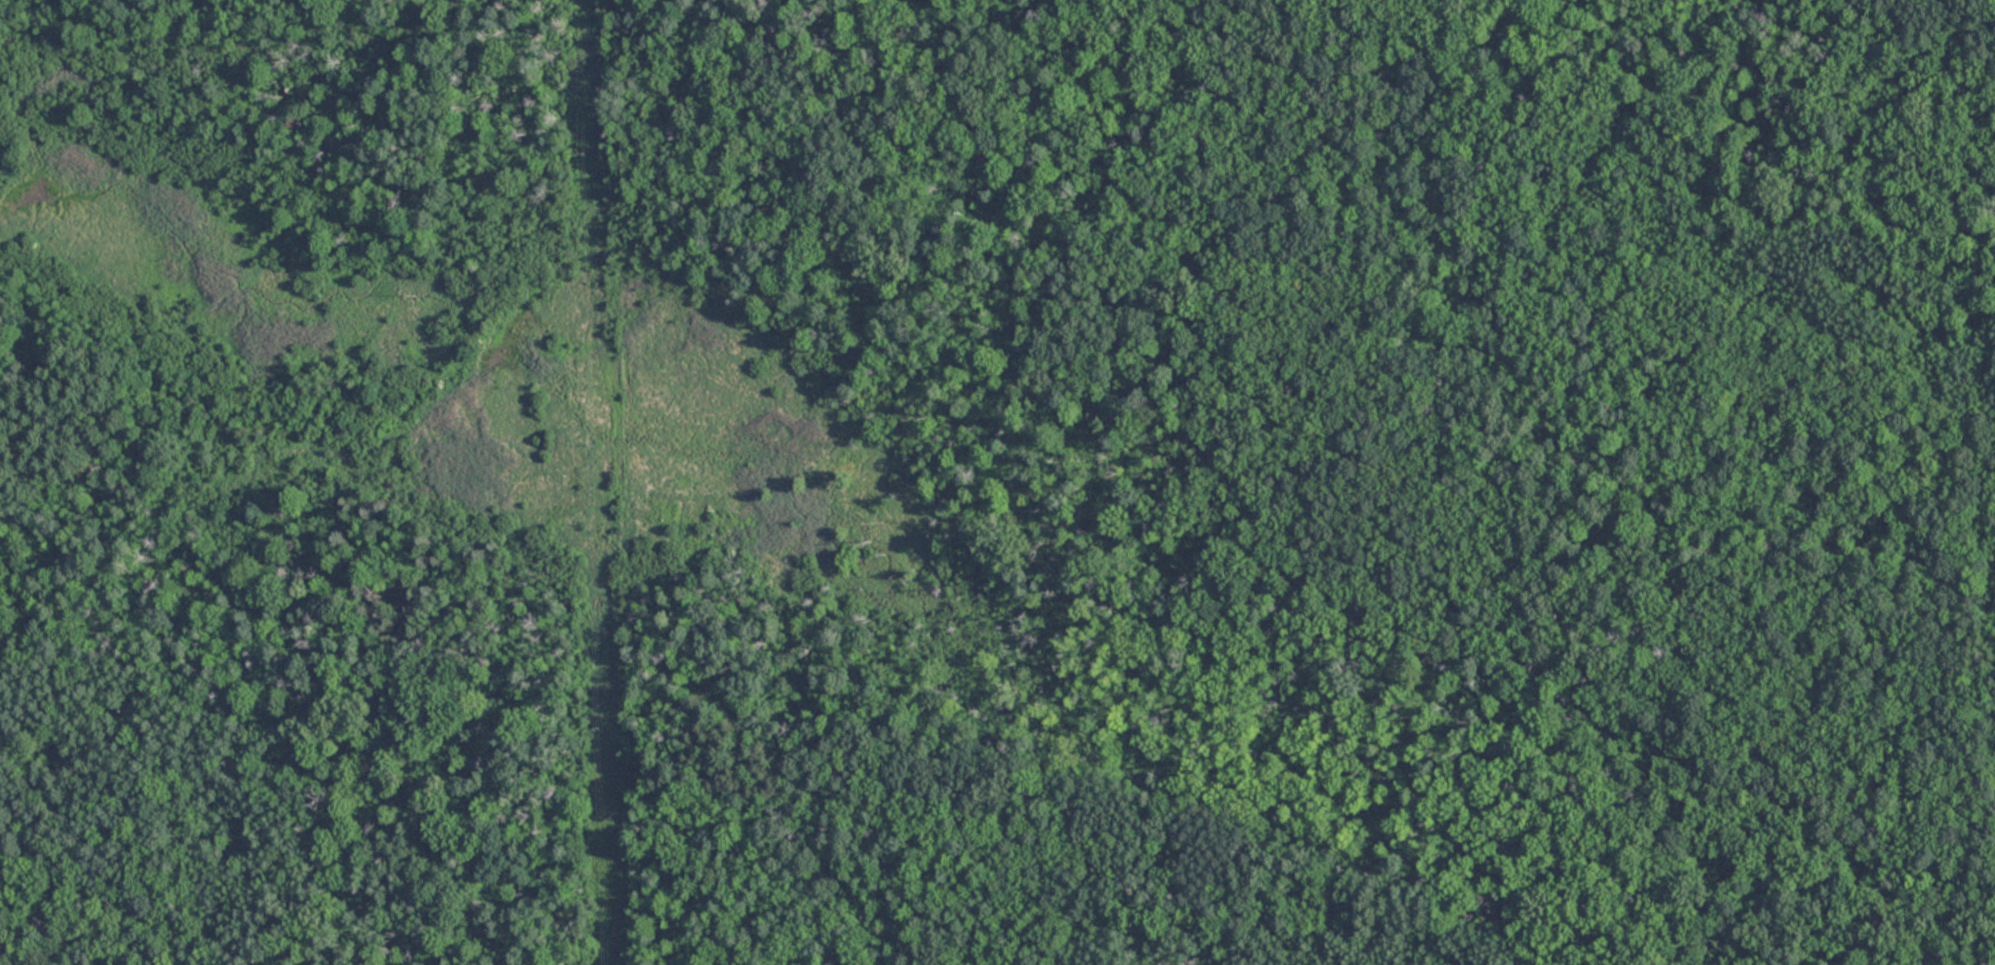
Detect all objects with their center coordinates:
park: (997, 482)

